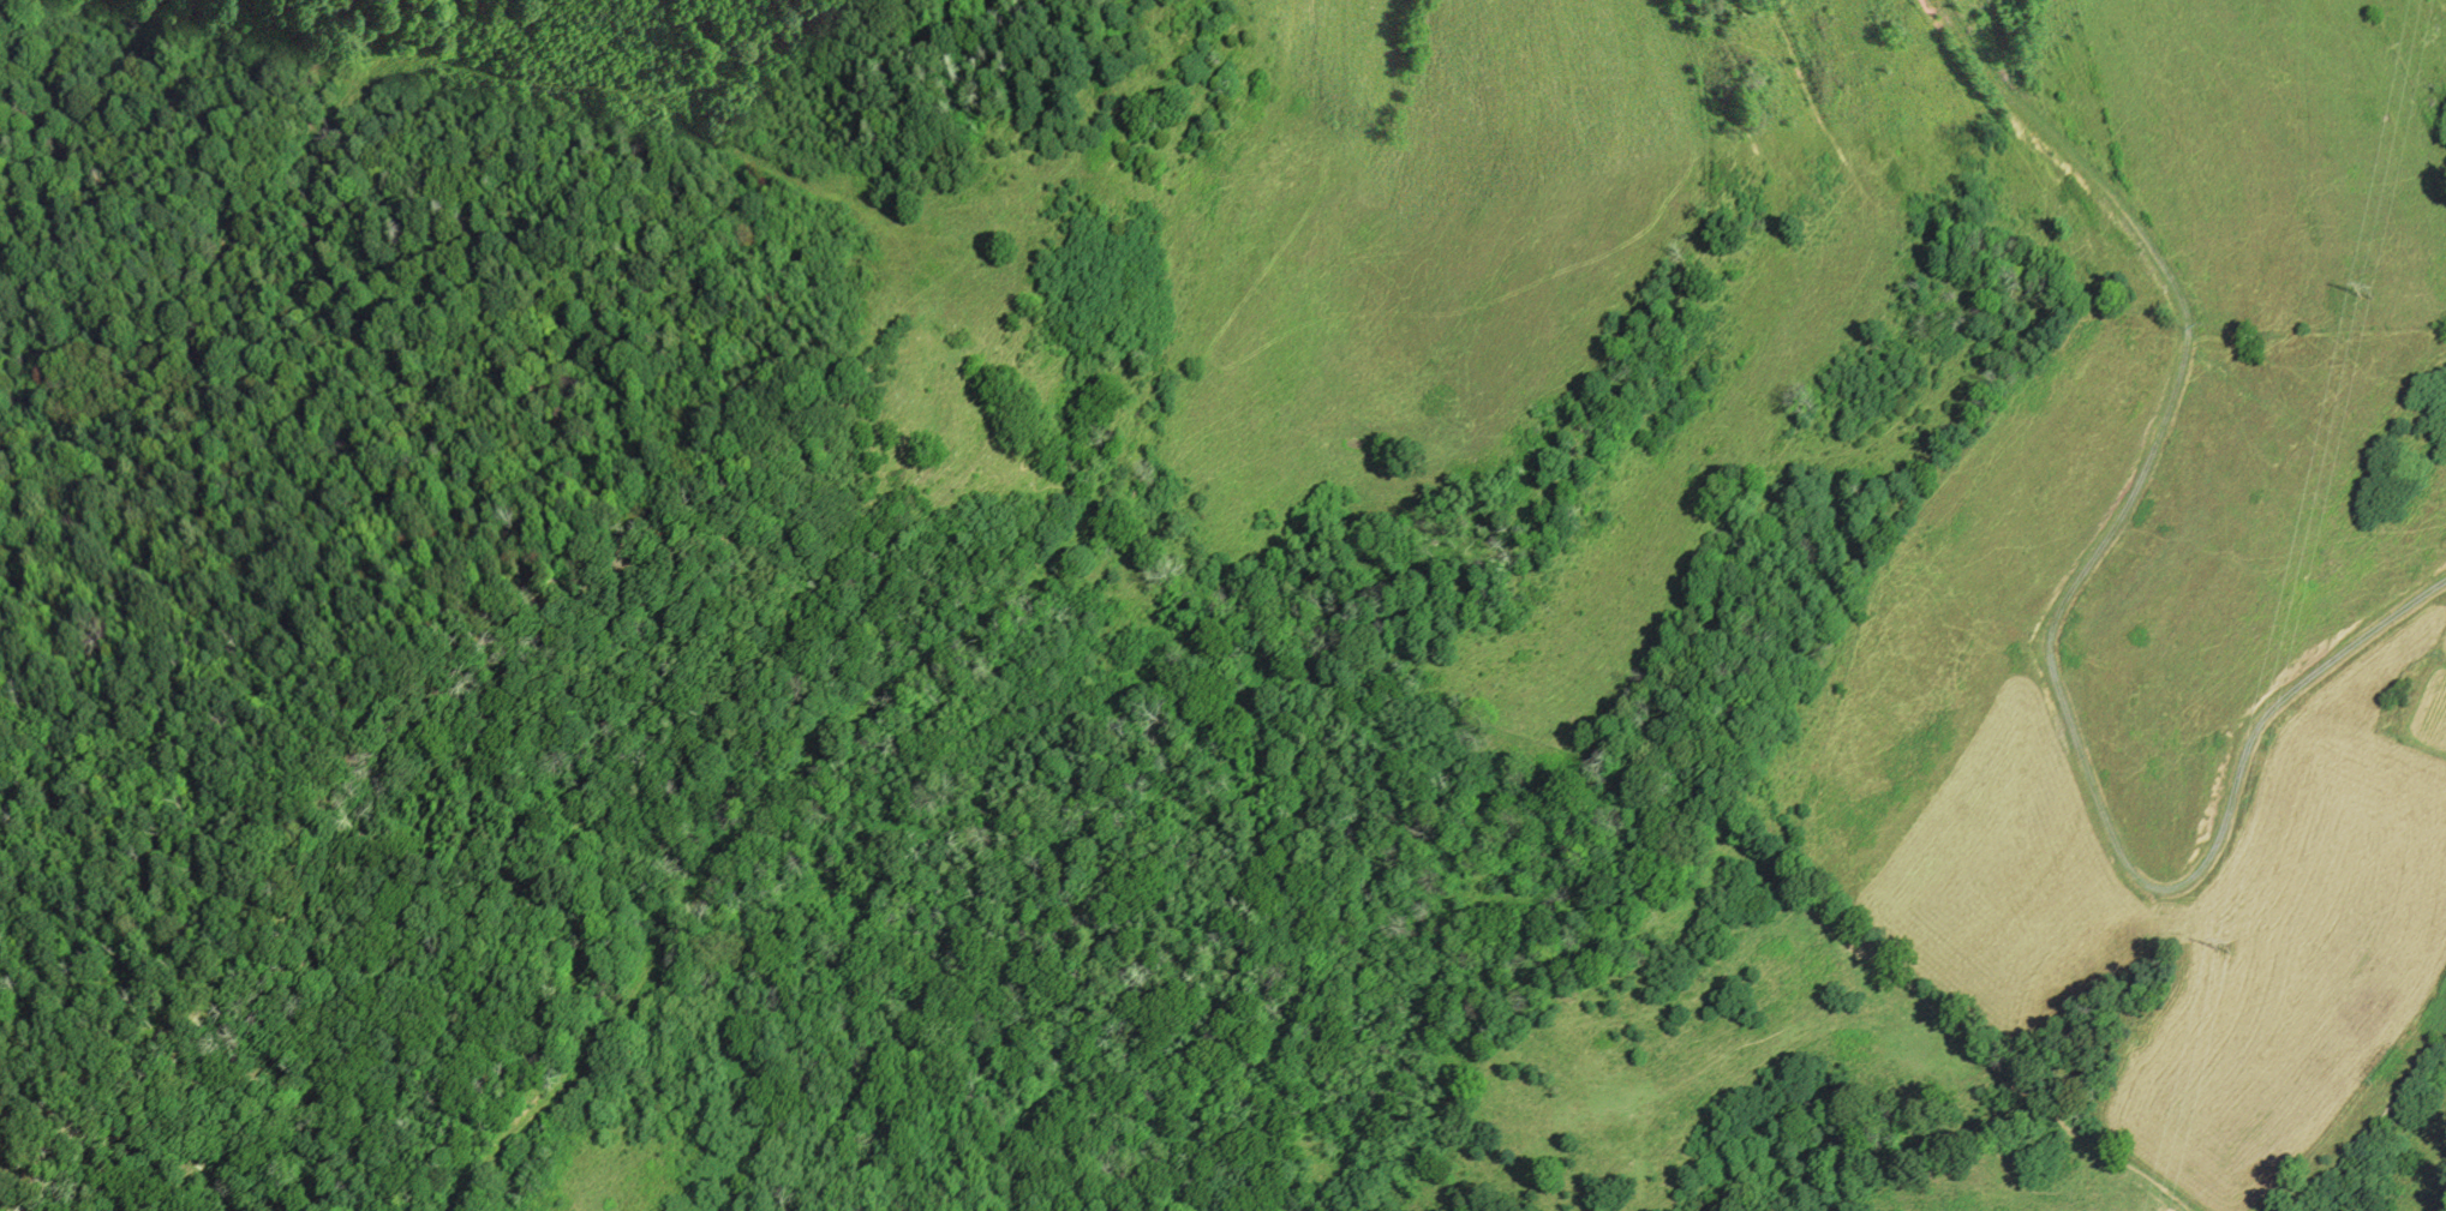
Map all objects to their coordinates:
road: (2053, 619)

